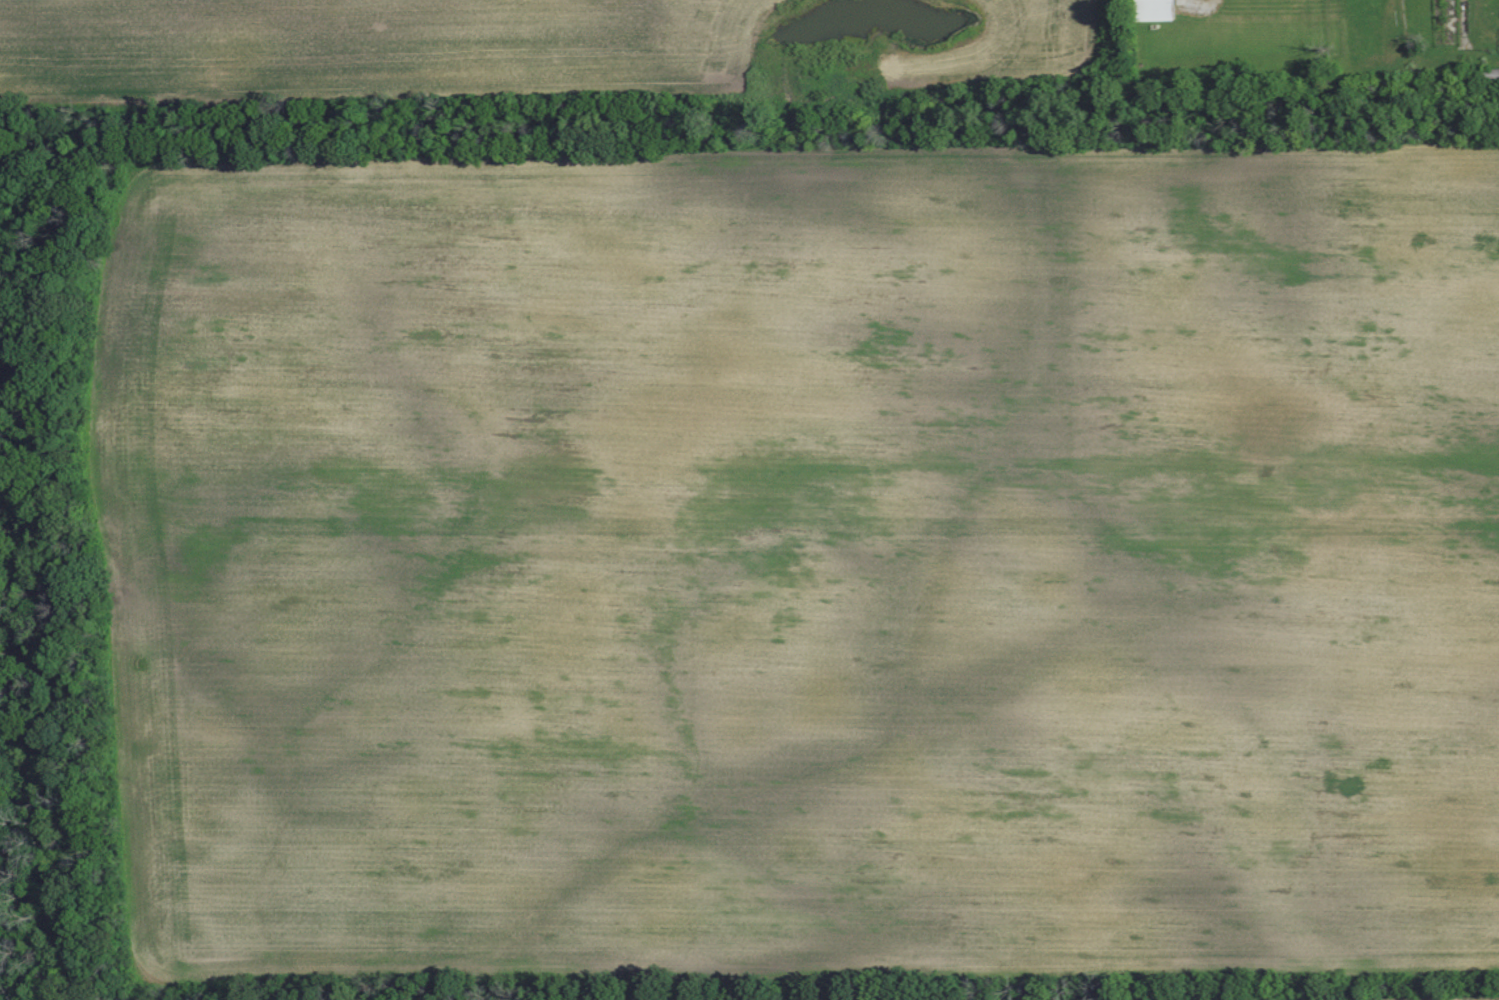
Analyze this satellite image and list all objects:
building: (1162, 11)

